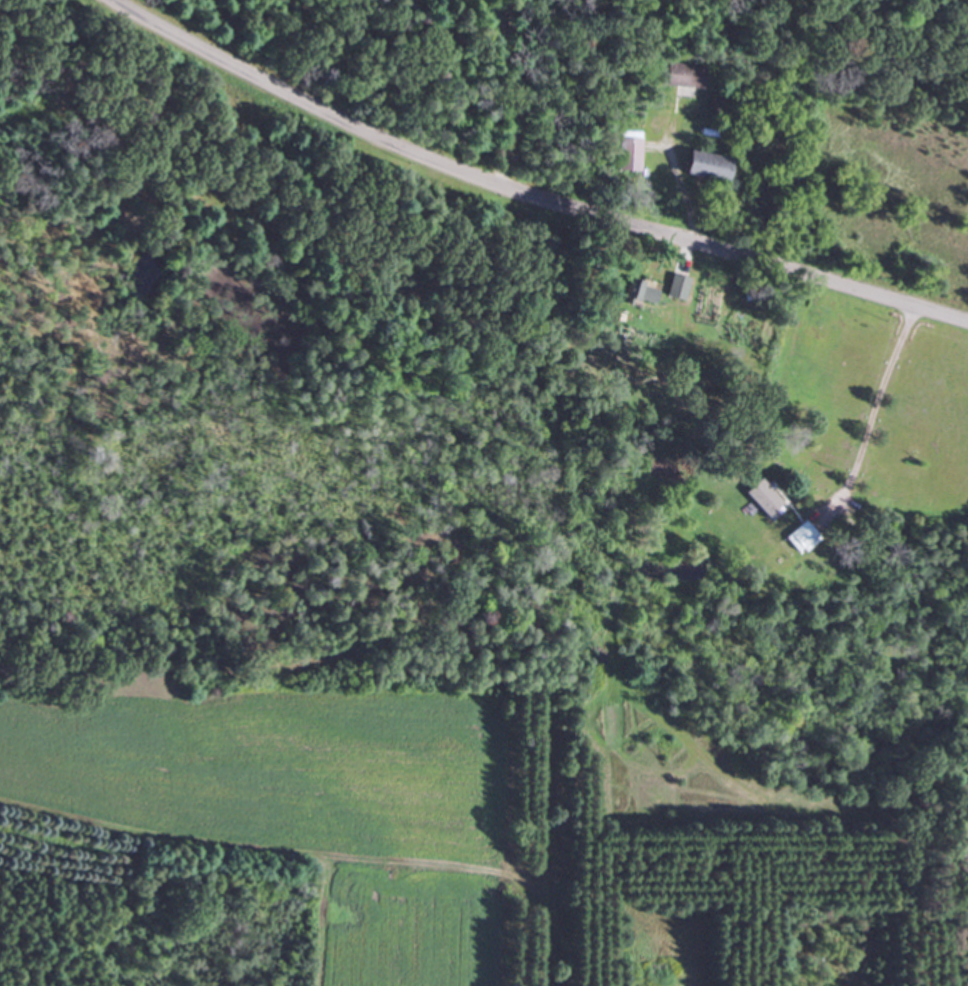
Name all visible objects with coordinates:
building: (681, 75)
road: (517, 90)
building: (699, 166)
road: (673, 179)
road: (525, 194)
building: (672, 286)
building: (635, 291)
road: (883, 400)
building: (760, 507)
building: (795, 536)

